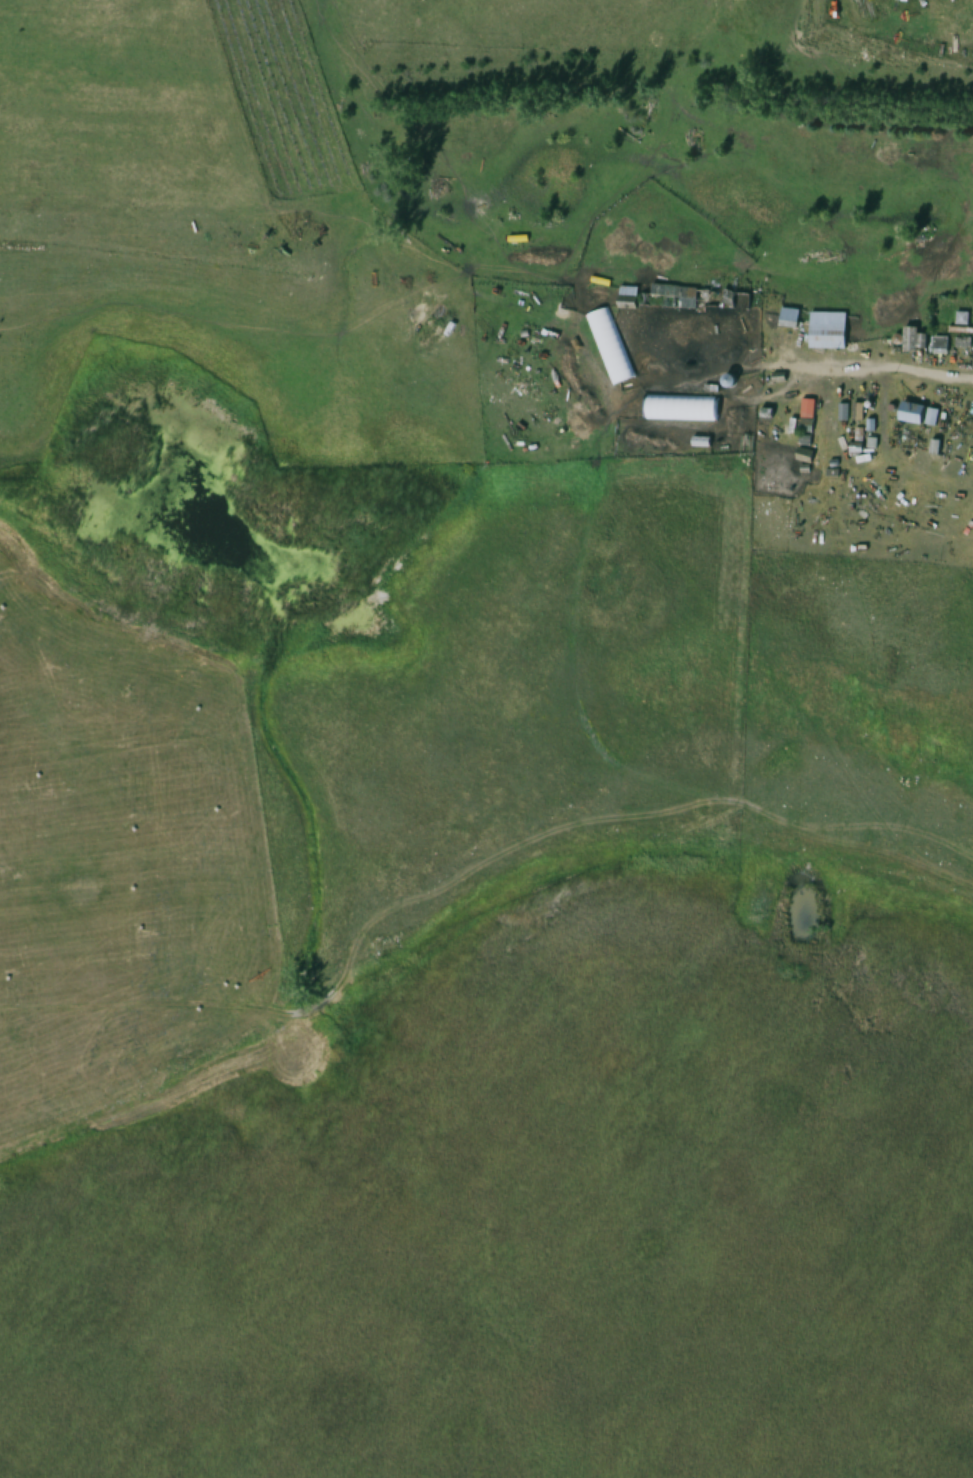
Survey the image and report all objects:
building: (949, 44)
building: (962, 318)
building: (817, 326)
building: (912, 339)
building: (939, 342)
building: (610, 345)
road: (854, 364)
building: (678, 407)
building: (909, 412)

